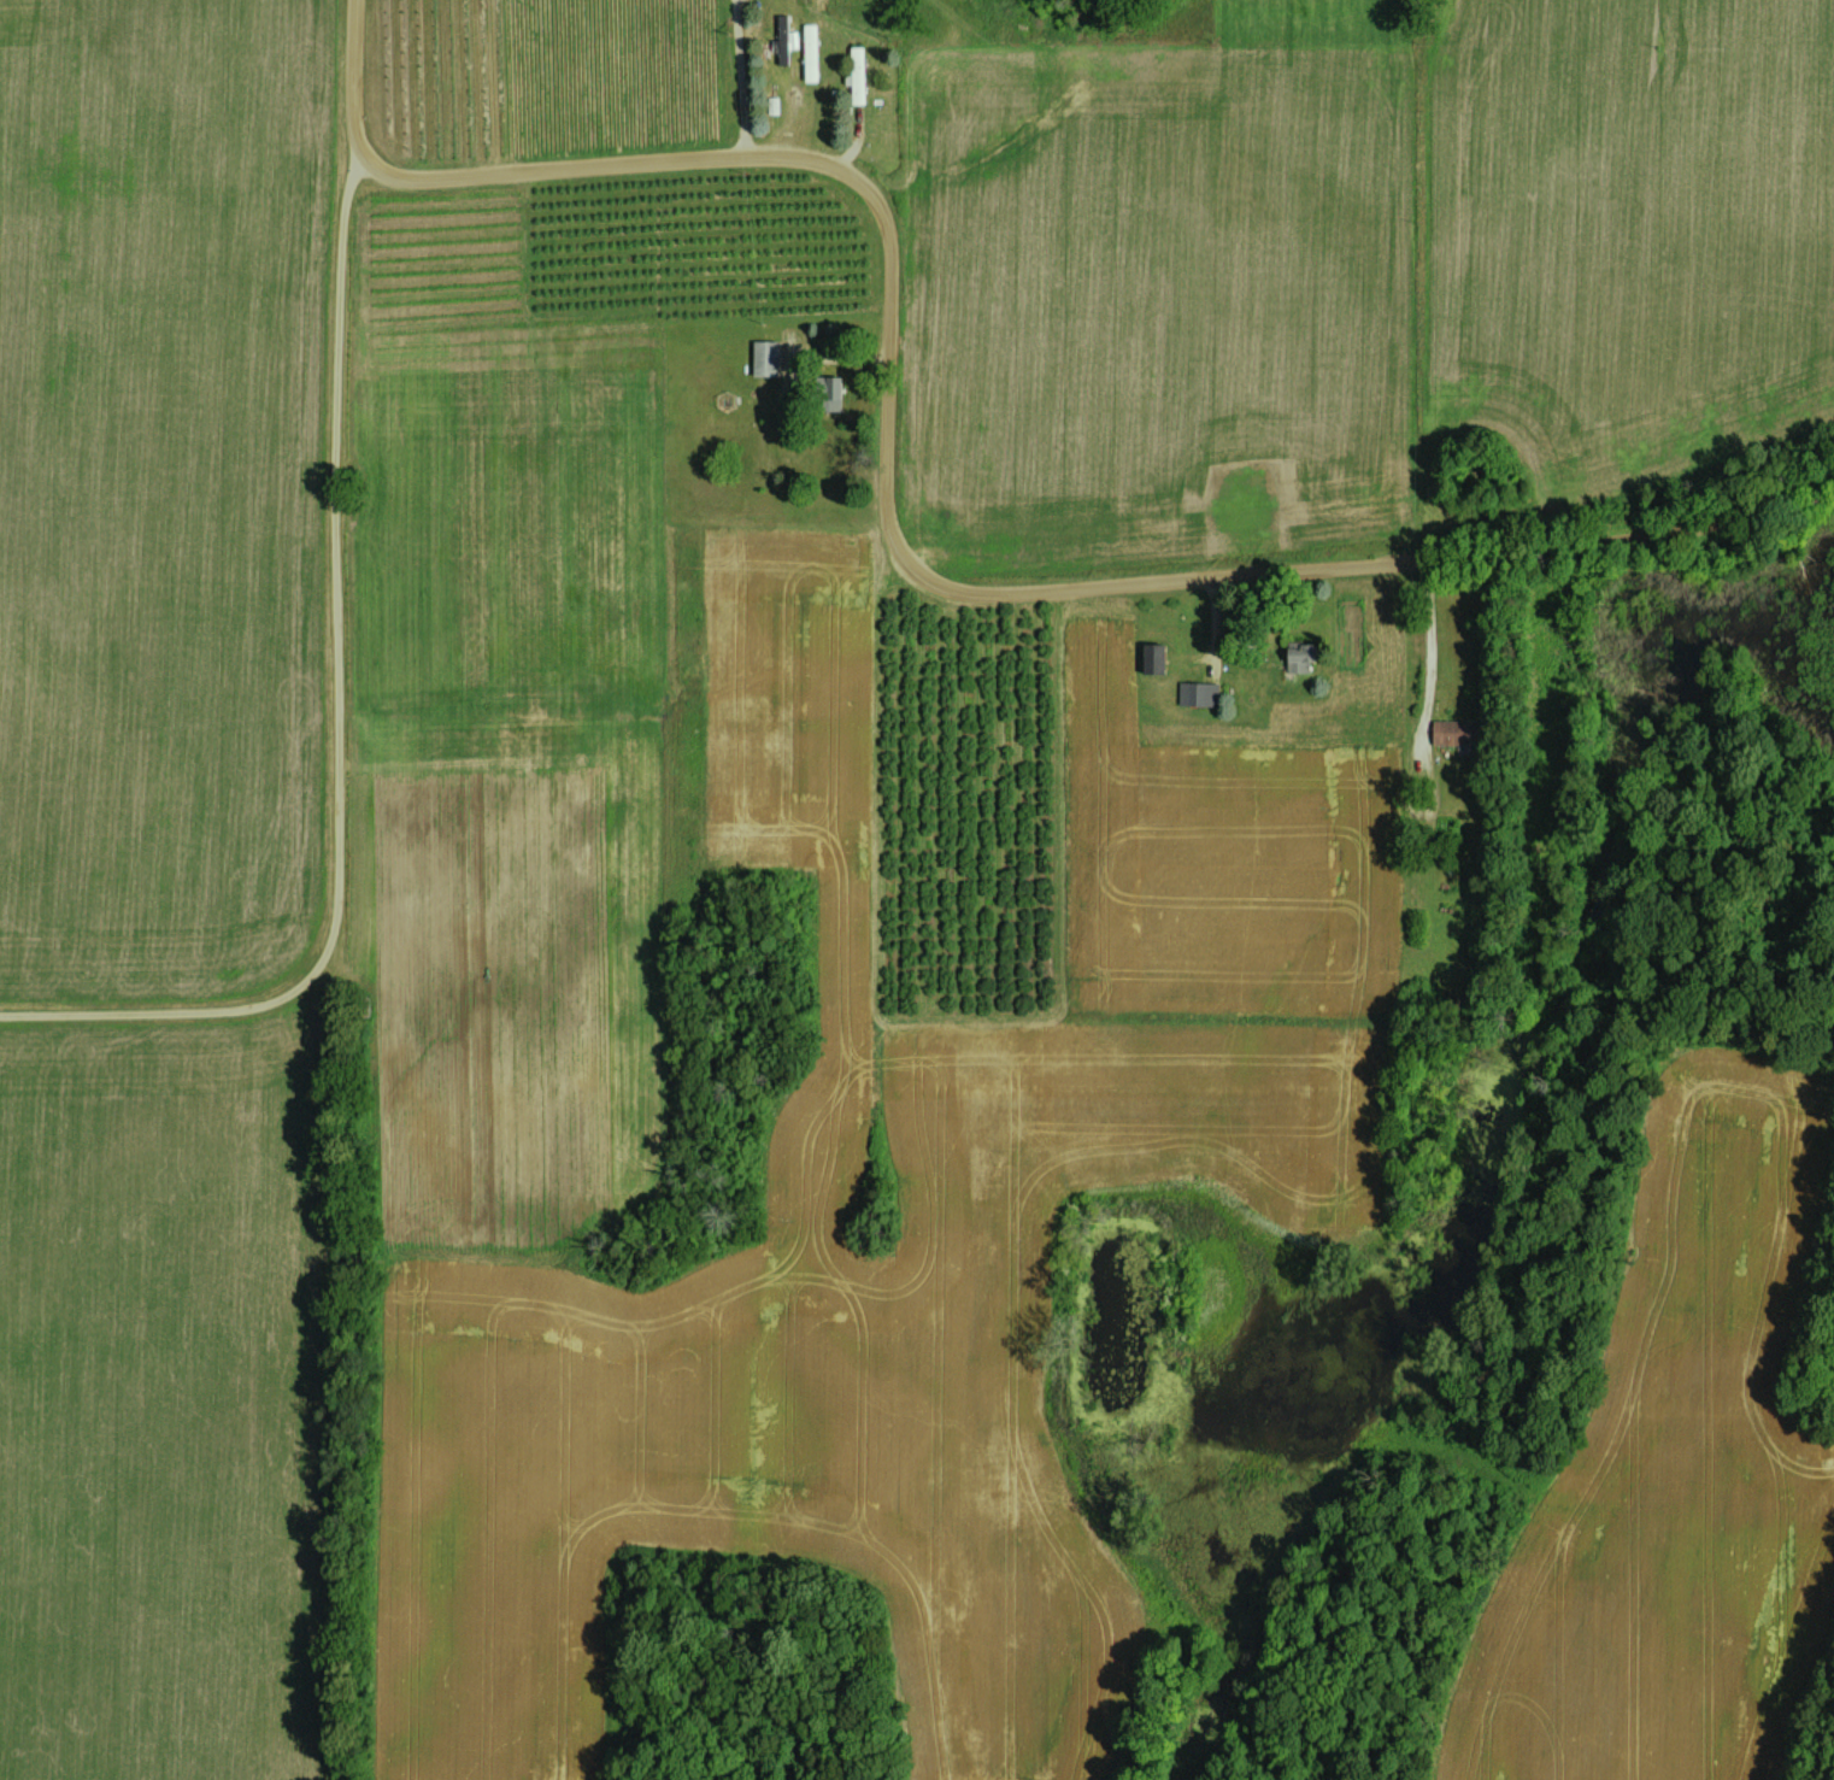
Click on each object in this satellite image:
building: (782, 39)
building: (857, 70)
building: (763, 358)
building: (828, 393)
road: (887, 510)
road: (1427, 648)
building: (1151, 652)
building: (1297, 657)
building: (1197, 693)
road: (337, 717)
building: (1456, 732)

